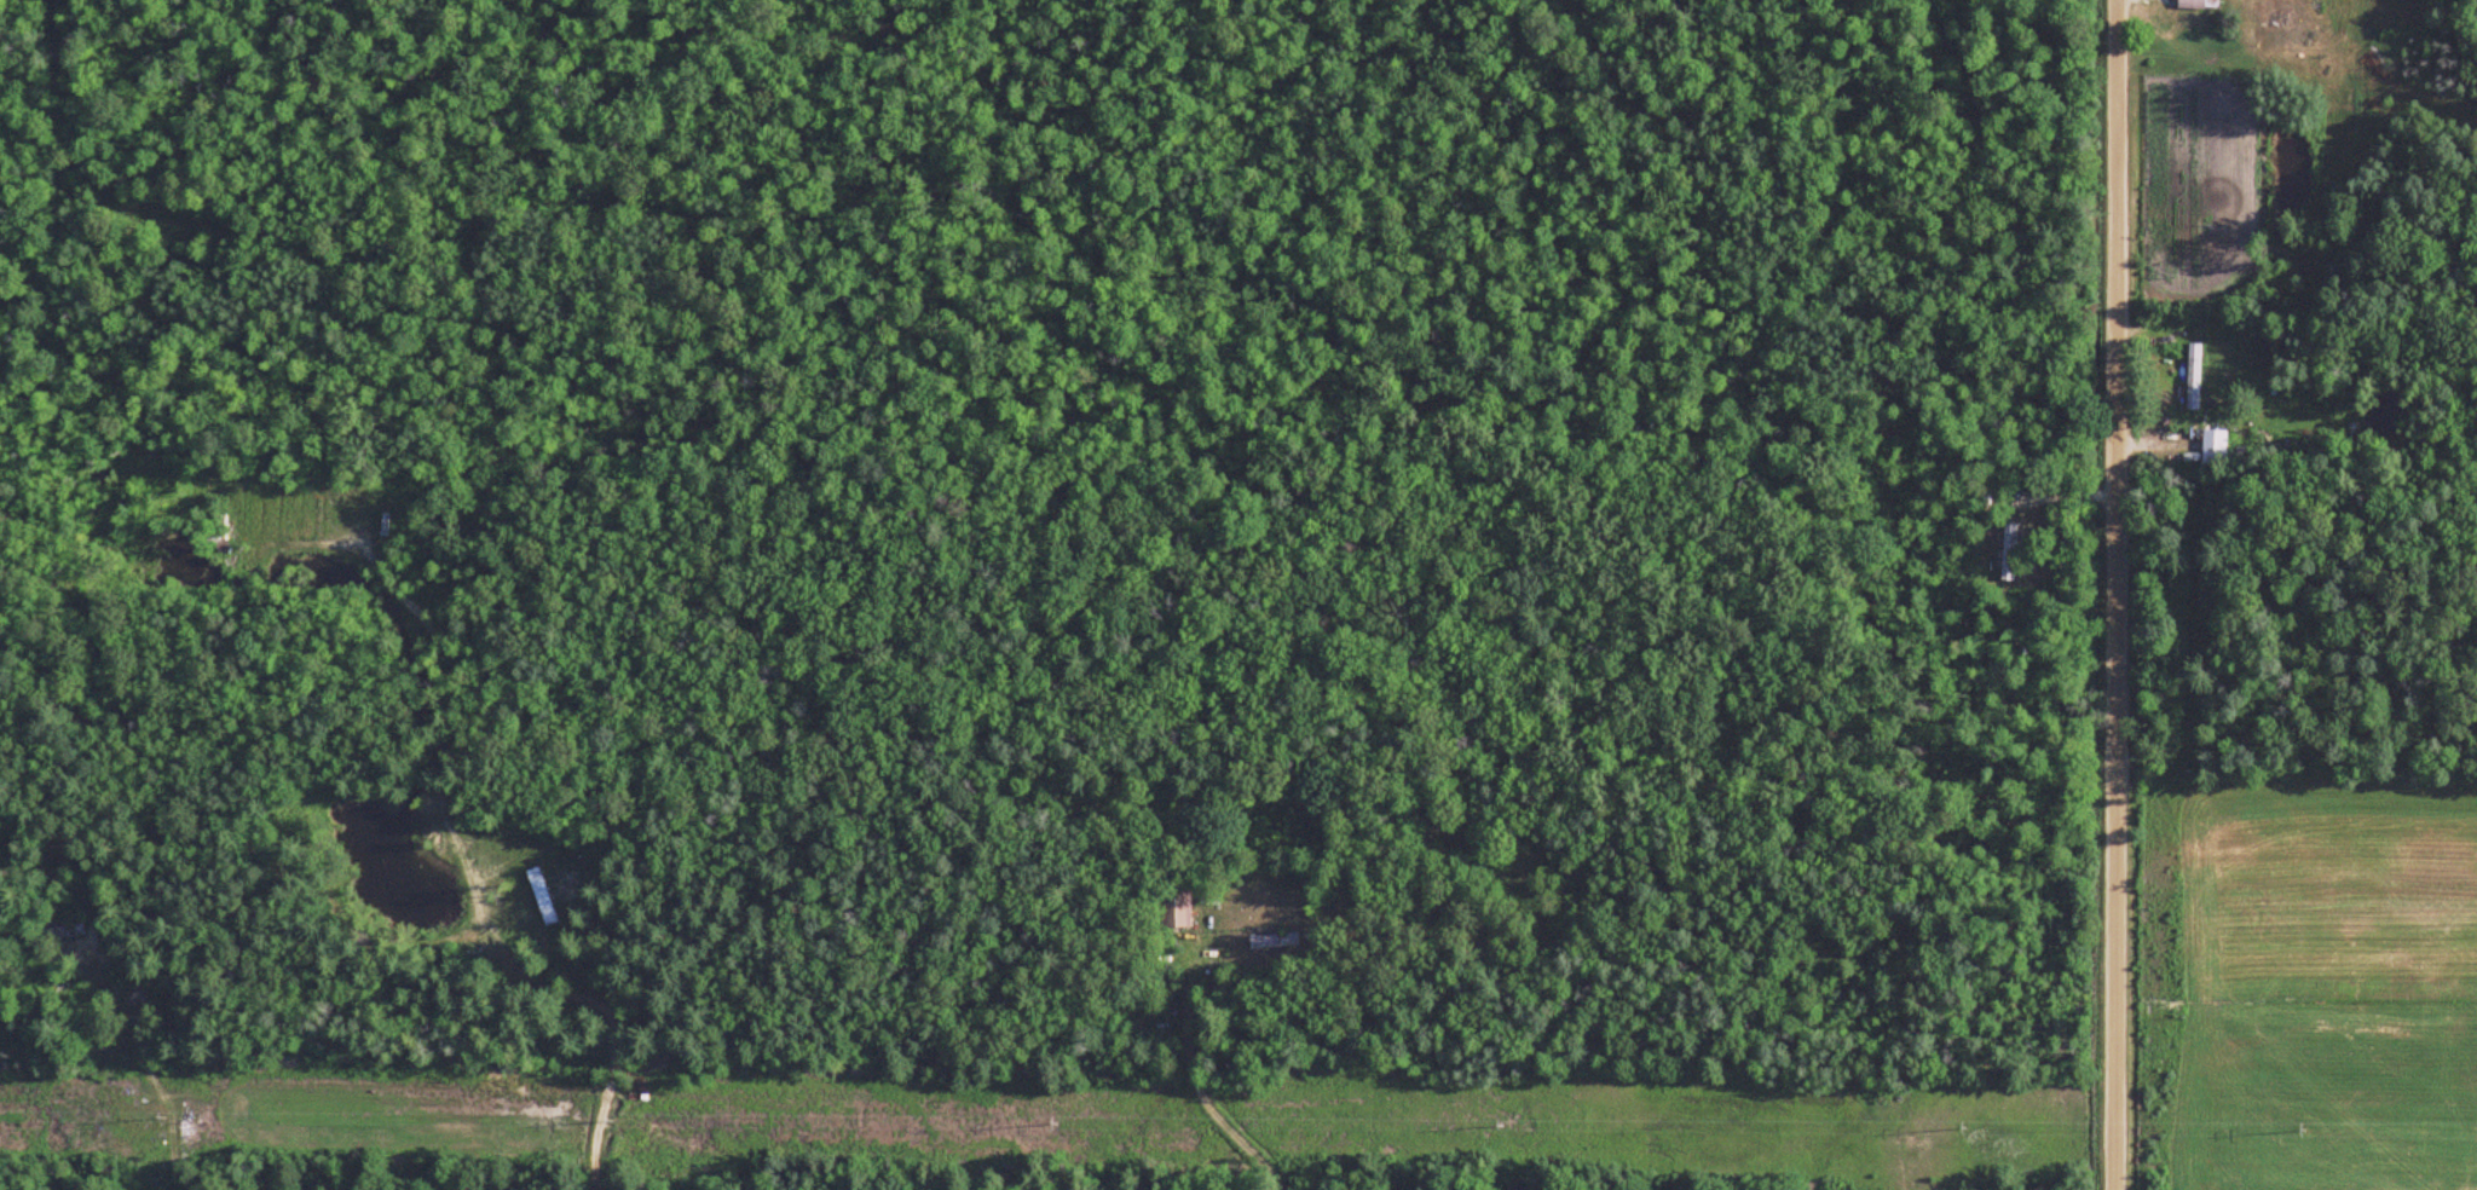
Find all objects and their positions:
building: (2198, 5)
building: (2194, 377)
building: (2215, 447)
building: (2007, 550)
road: (2118, 595)
building: (1176, 911)
building: (63, 932)
building: (1274, 942)

